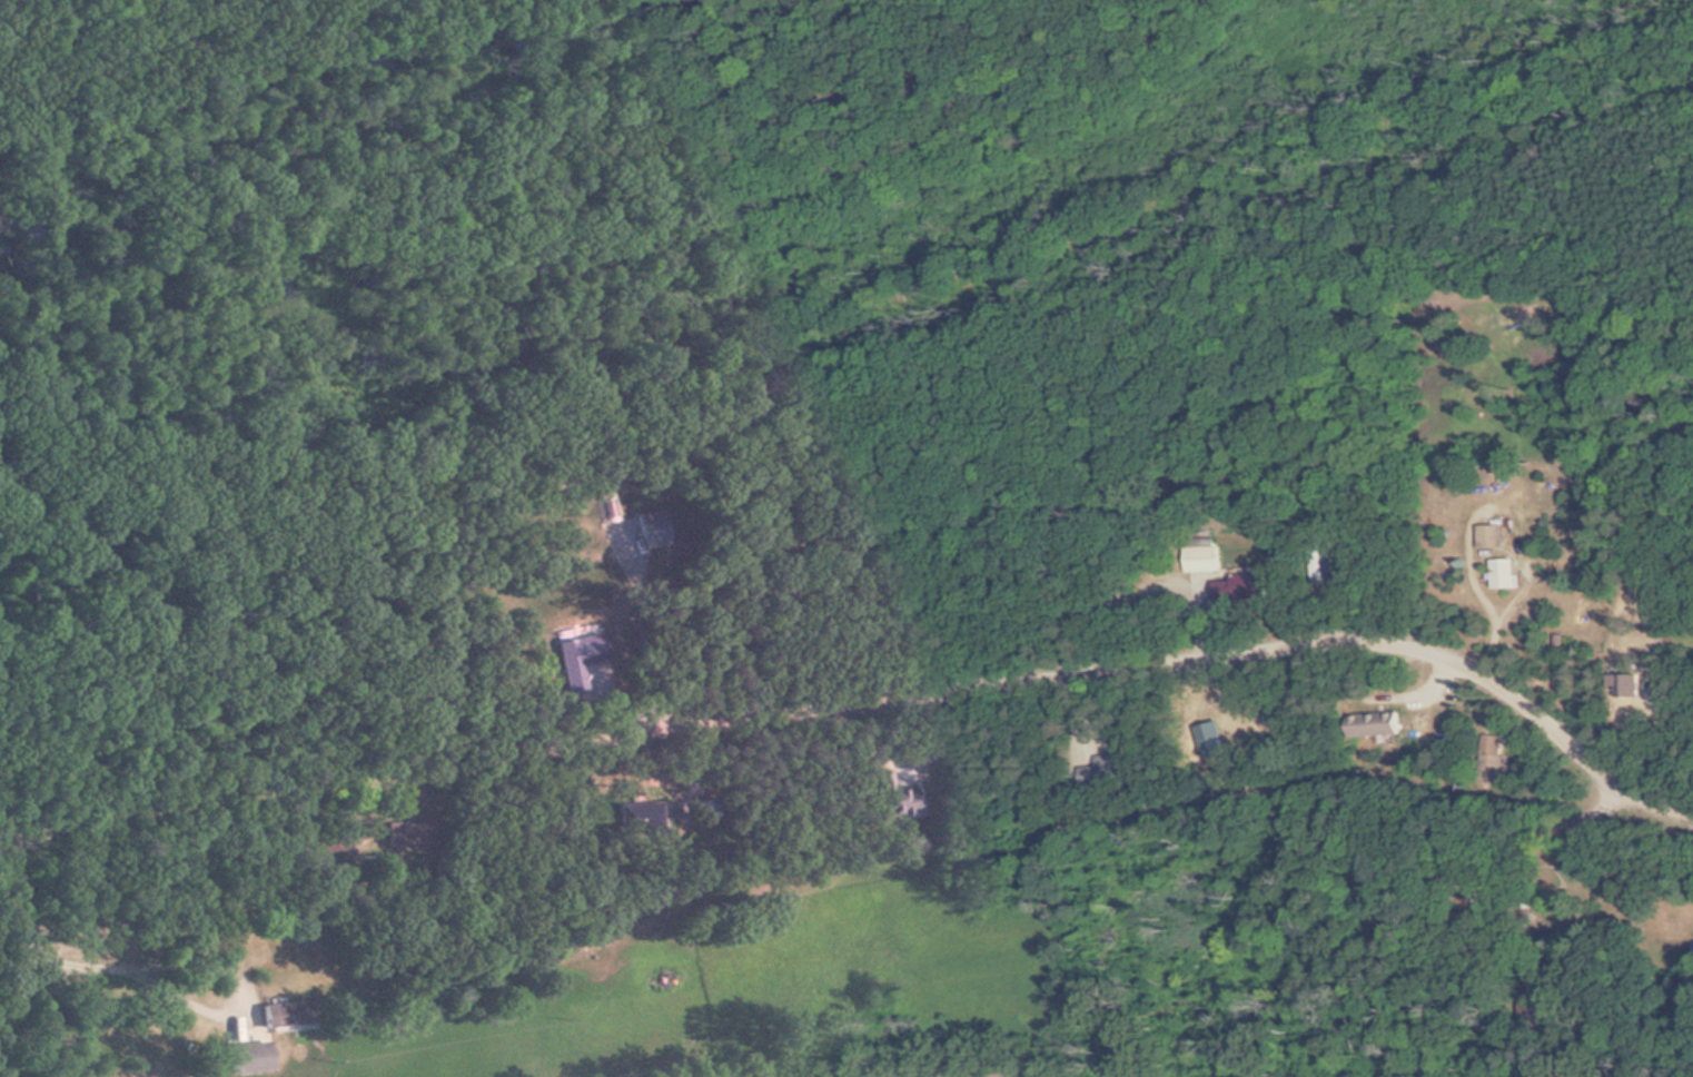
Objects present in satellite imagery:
road: (1666, 526)
building: (630, 531)
building: (1493, 536)
building: (1204, 556)
building: (1505, 574)
building: (1236, 587)
building: (577, 662)
building: (1626, 686)
road: (870, 707)
building: (1375, 727)
road: (1362, 738)
road: (1388, 744)
building: (893, 799)
building: (706, 812)
building: (638, 819)
building: (407, 834)
building: (288, 1015)
building: (251, 1058)

